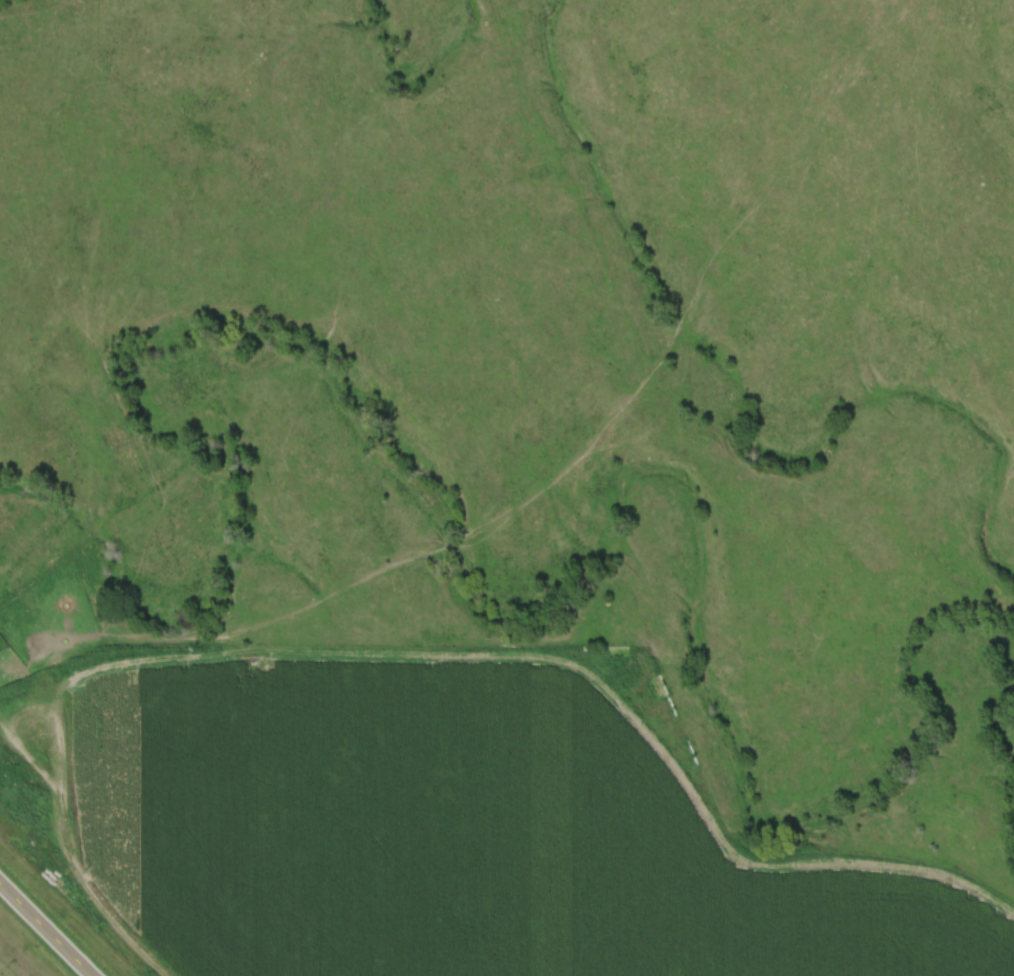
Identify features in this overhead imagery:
building: (661, 687)
road: (47, 928)

